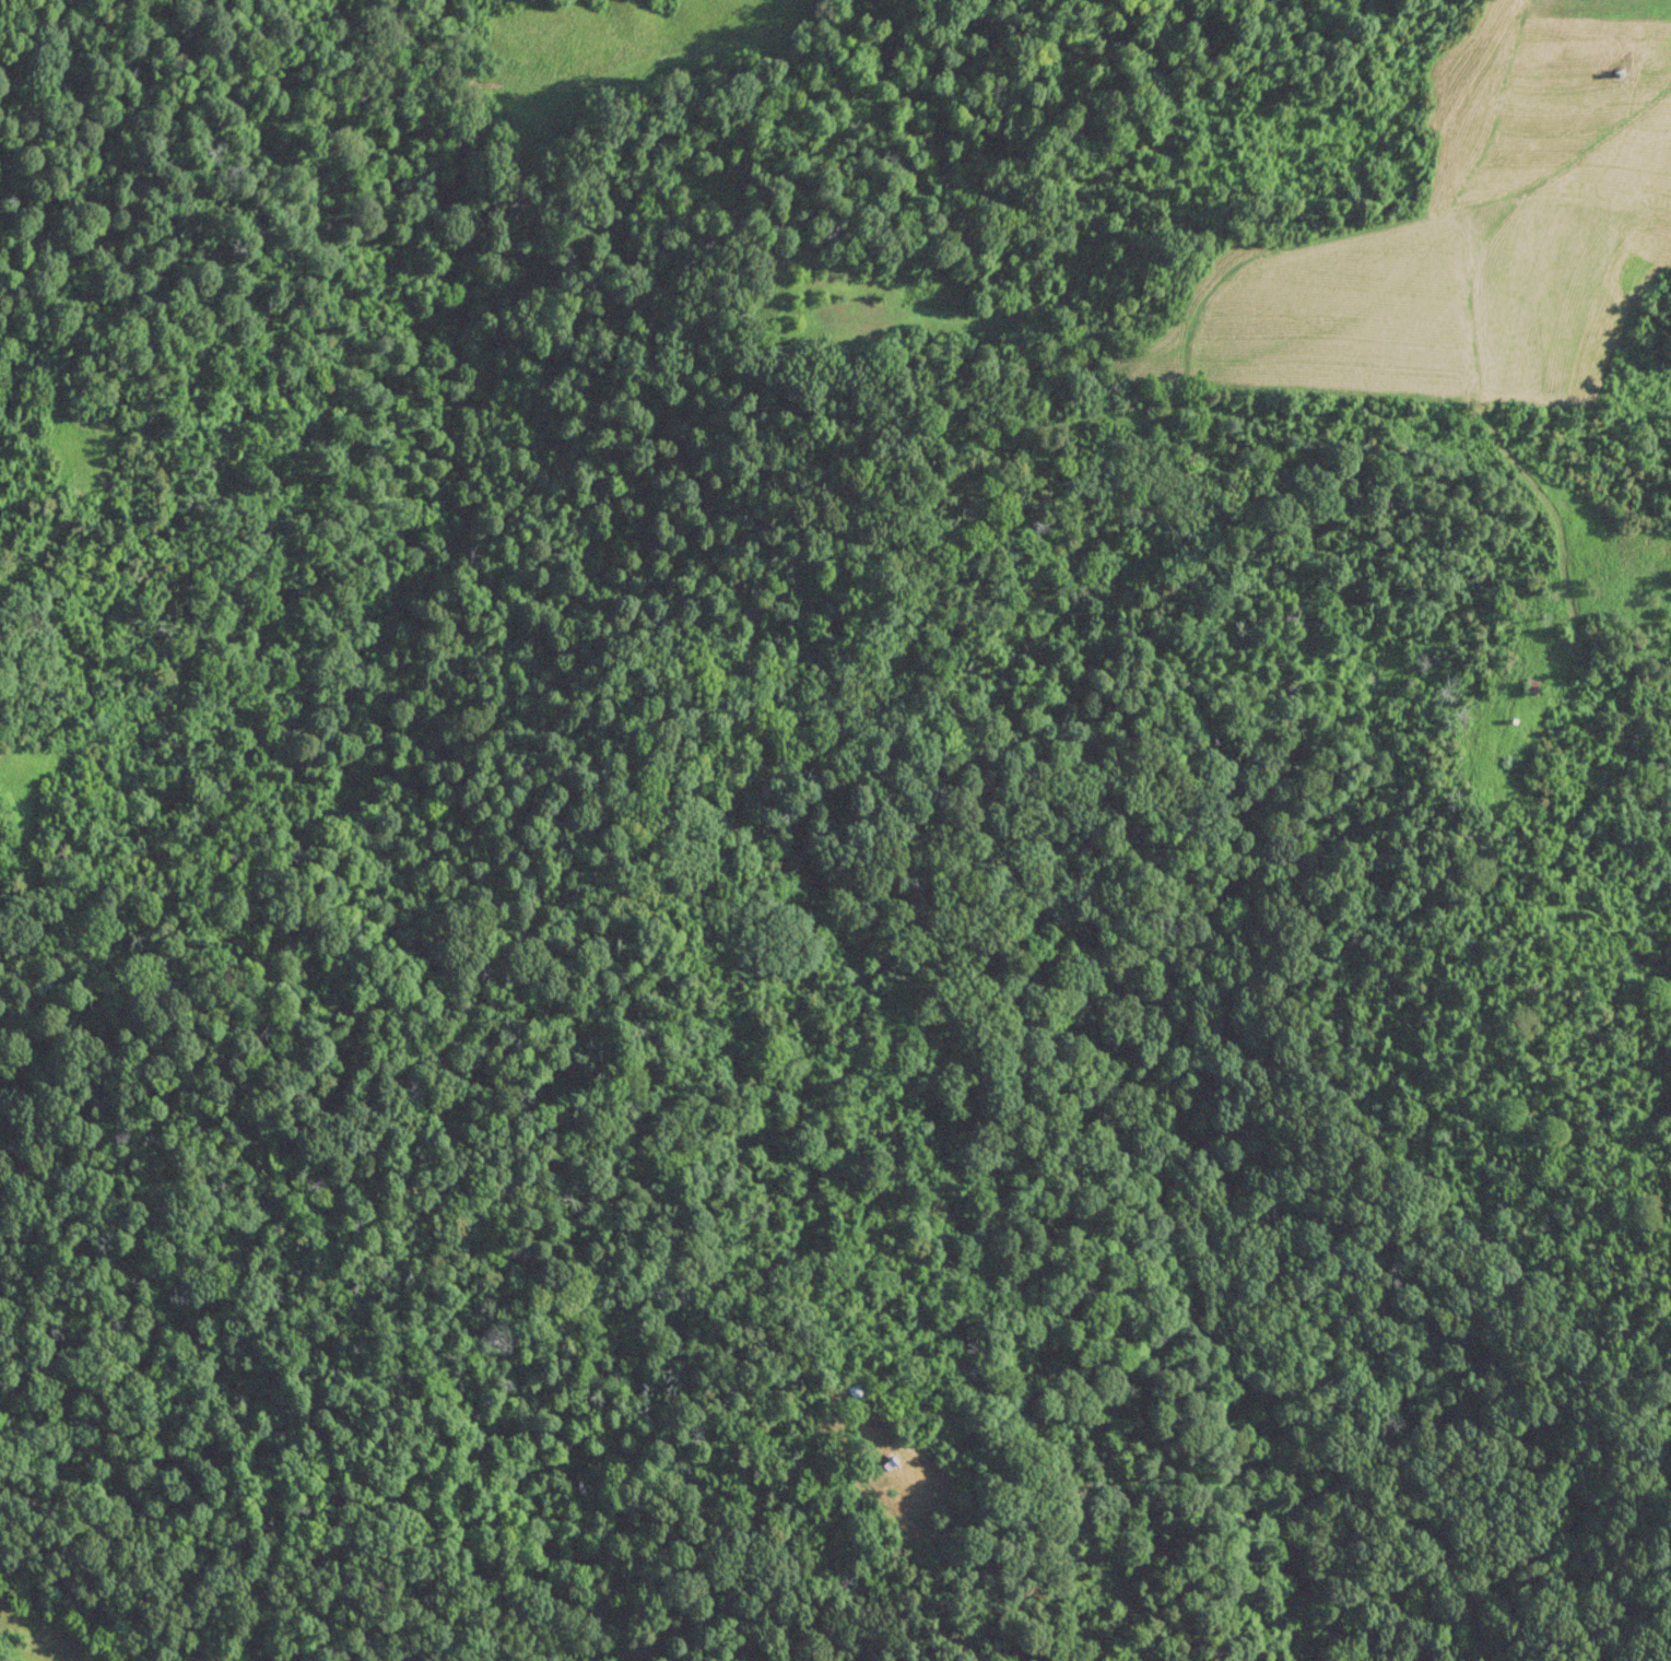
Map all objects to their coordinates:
building: (1531, 684)
road: (1290, 1152)

